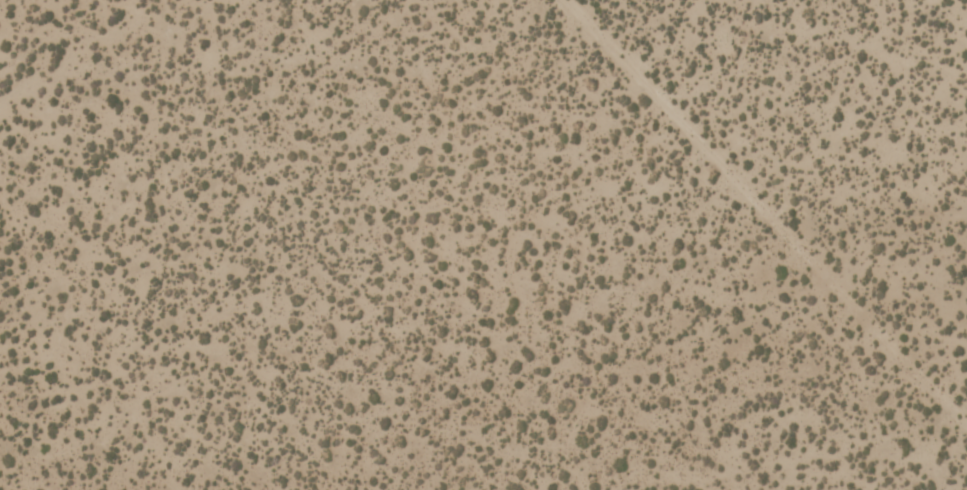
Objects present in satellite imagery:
road: (766, 214)

